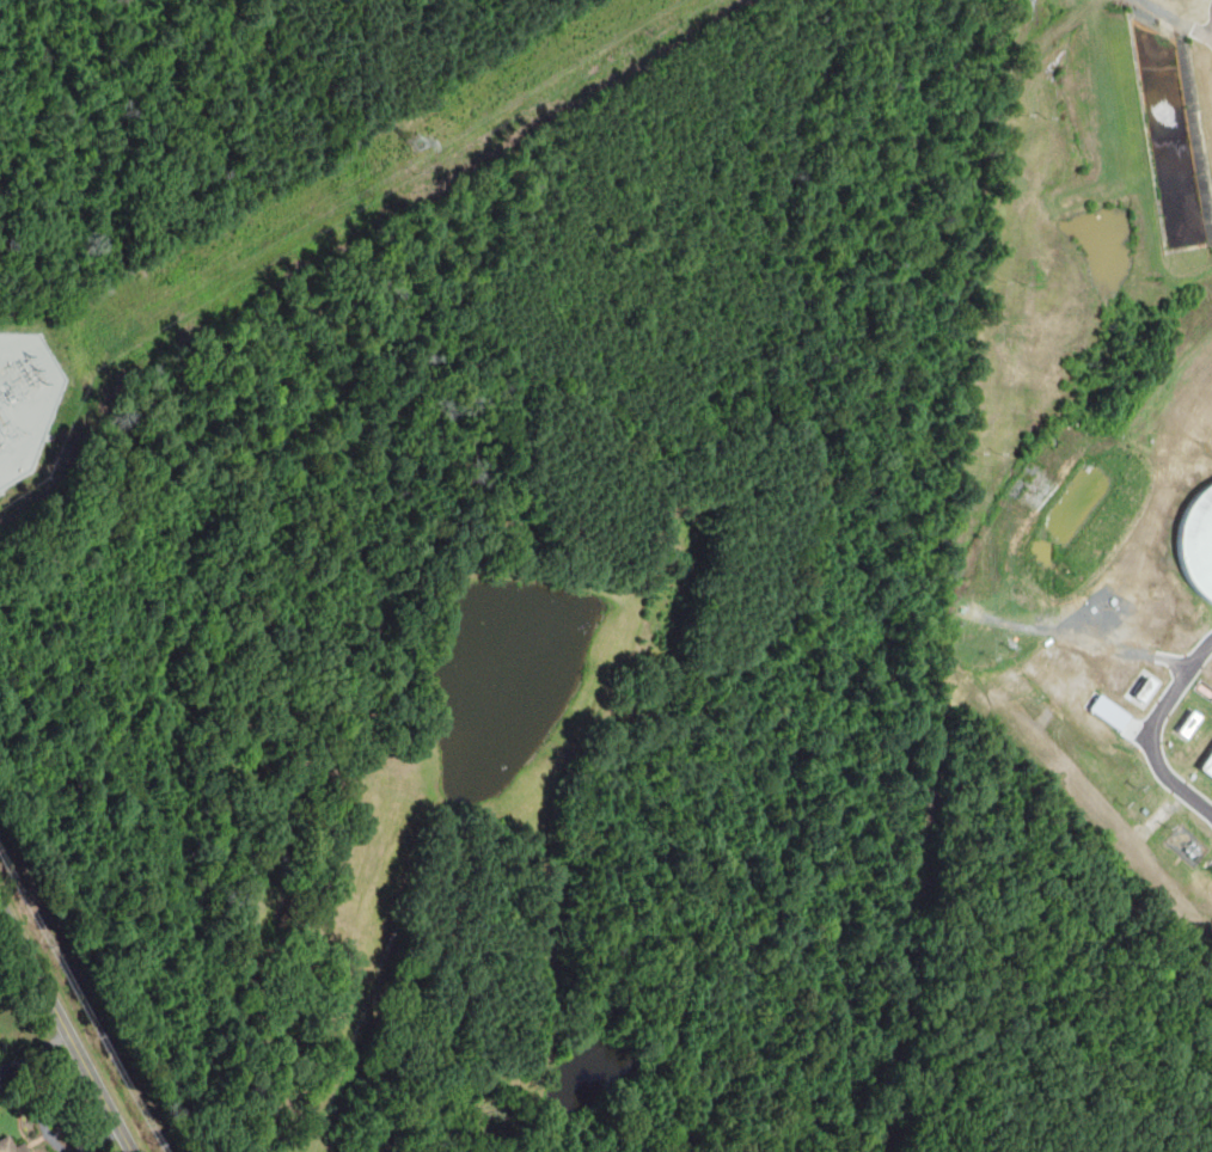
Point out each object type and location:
road: (1183, 17)
power tower: (416, 143)
power substation: (25, 399)
building: (1198, 543)
storage tank: (1198, 543)
building: (1107, 710)
road: (1161, 736)
building: (1207, 761)
road: (66, 1028)
building: (11, 1146)

